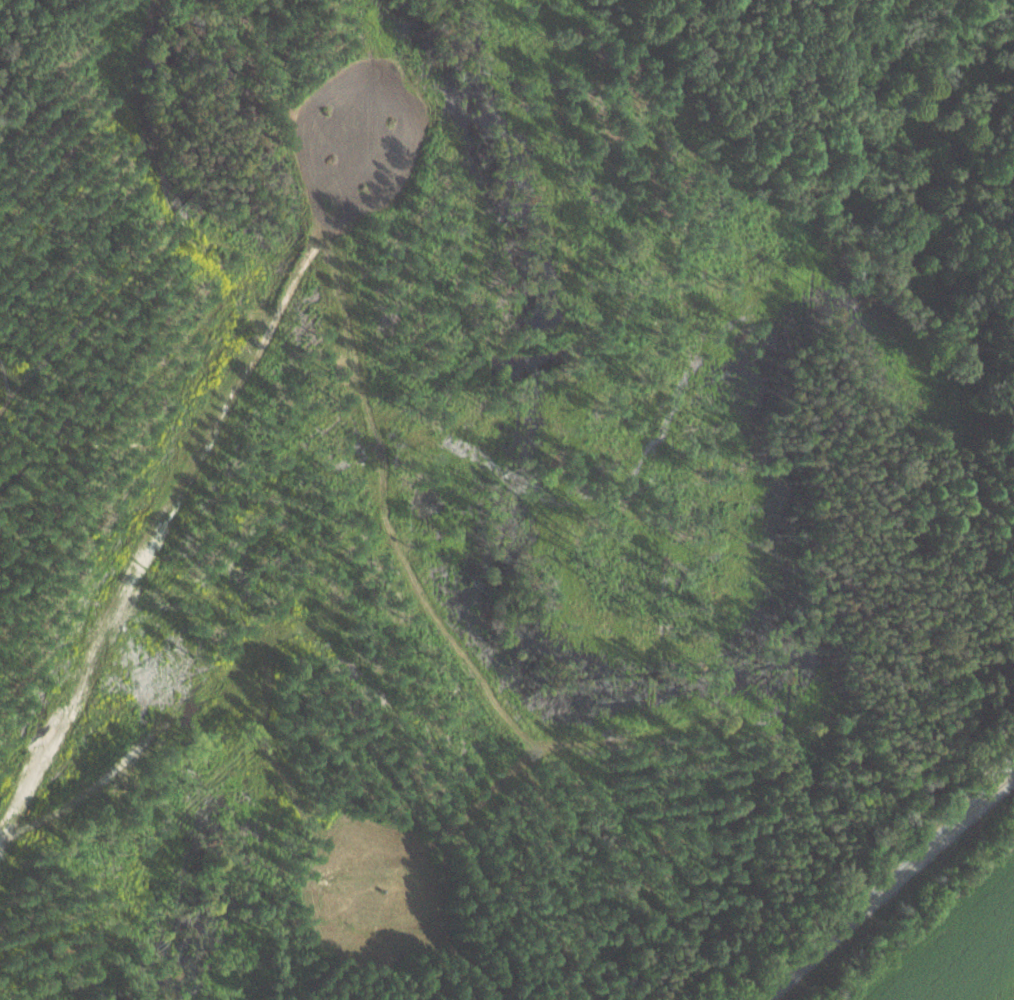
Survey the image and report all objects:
railway: (888, 885)

